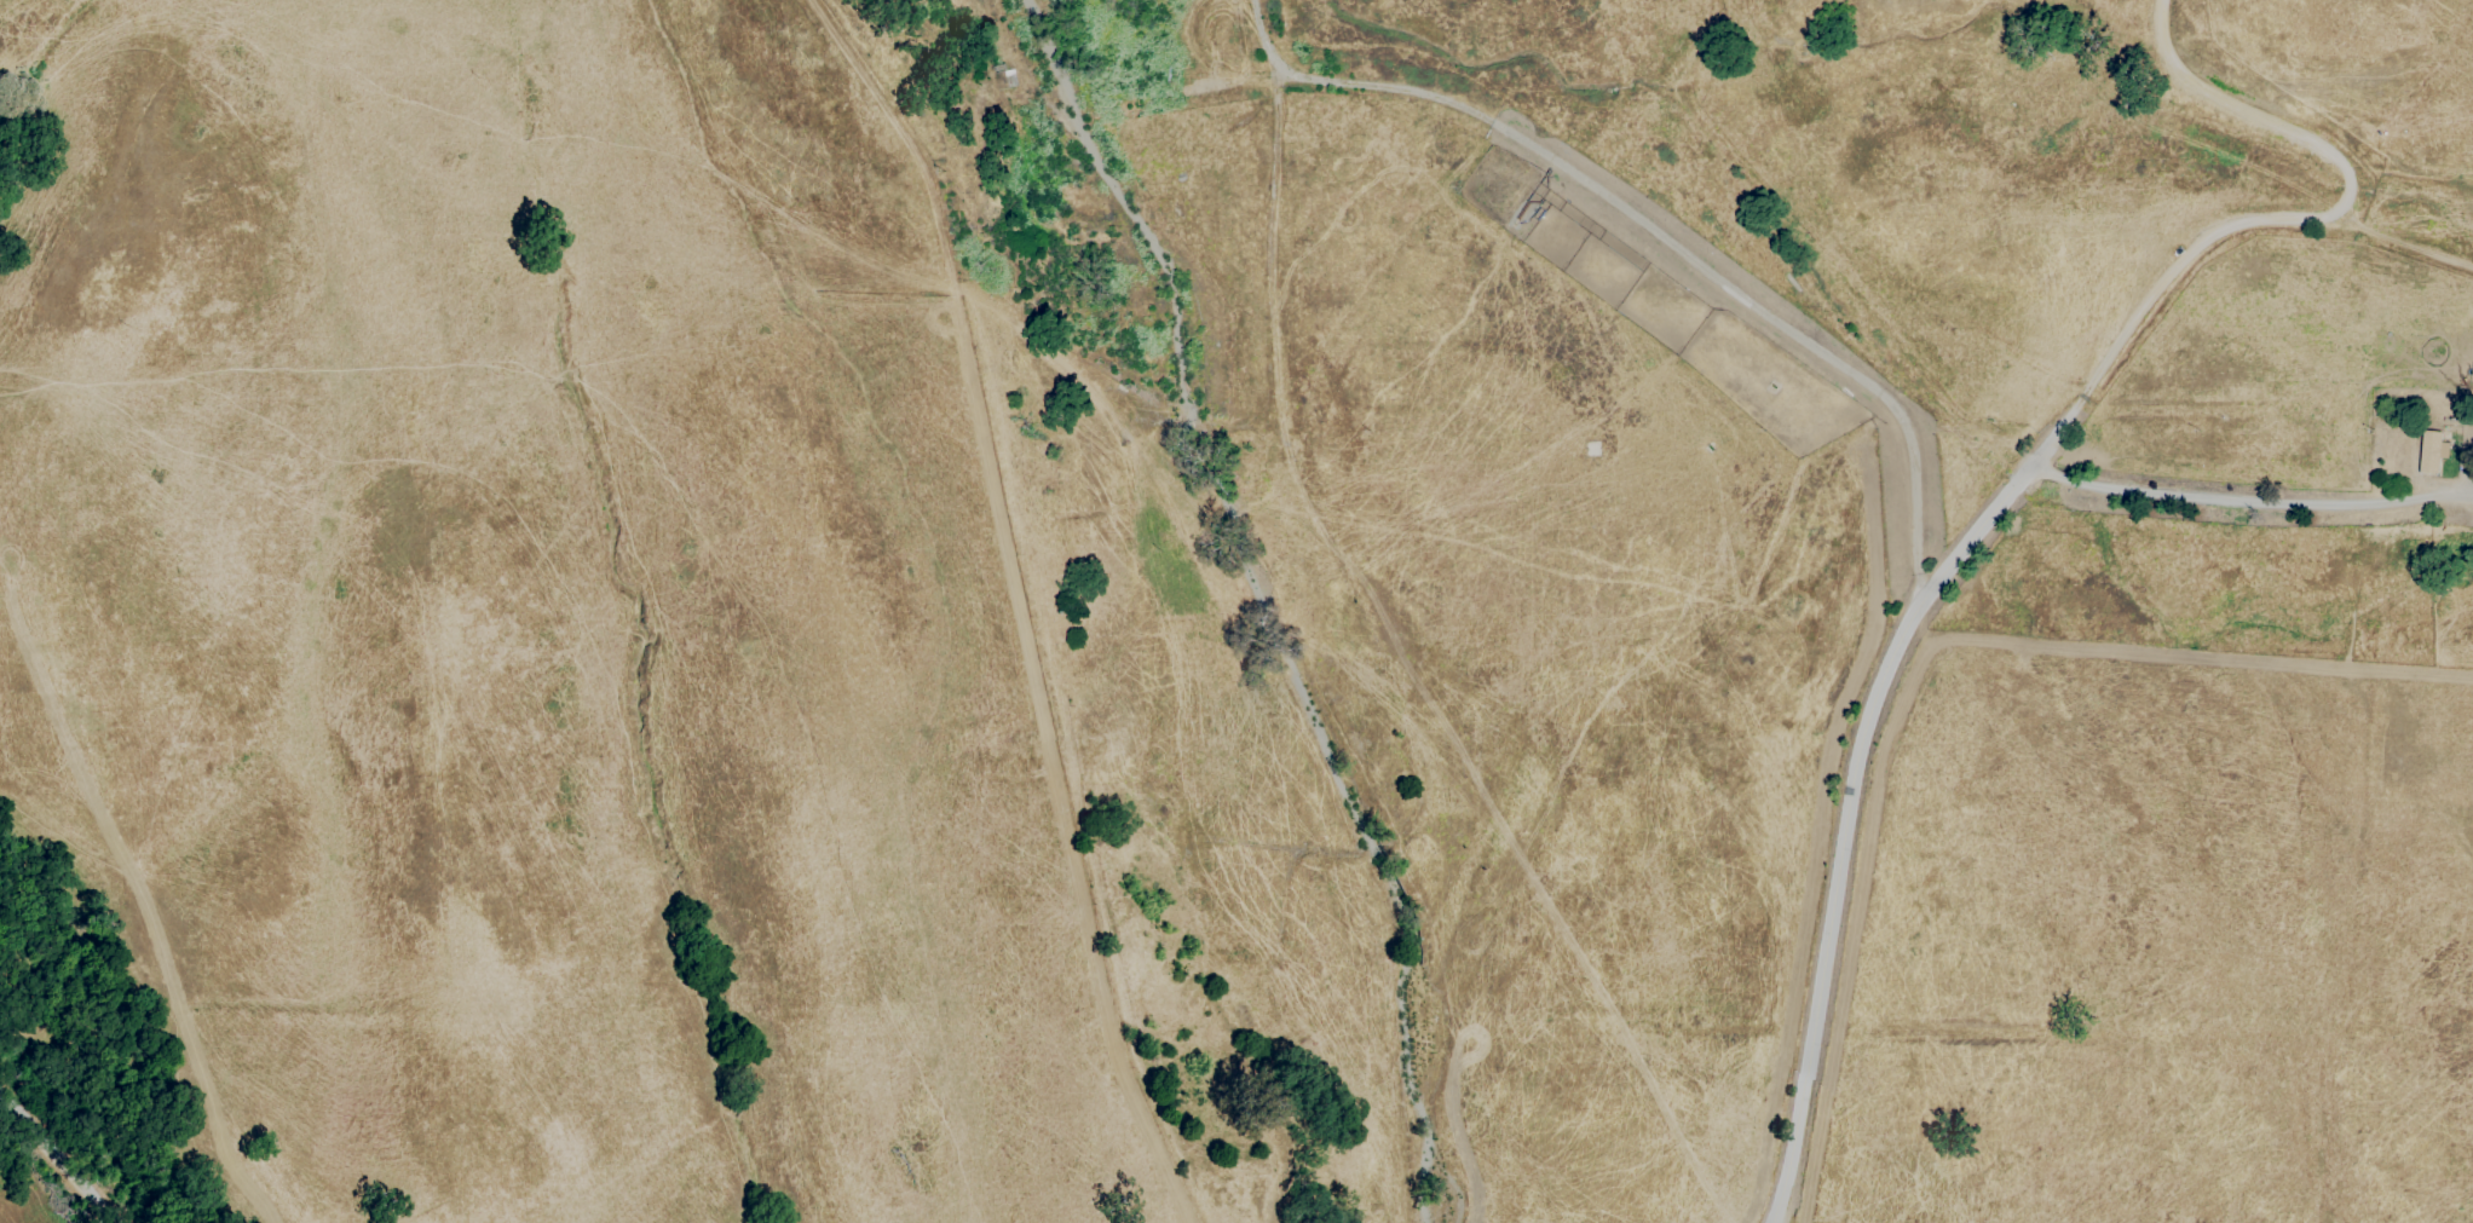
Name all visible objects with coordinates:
road: (2283, 220)
road: (1650, 231)
road: (2400, 243)
building: (2428, 451)
road: (2249, 500)
road: (1976, 533)
road: (1834, 904)
road: (56, 1158)

